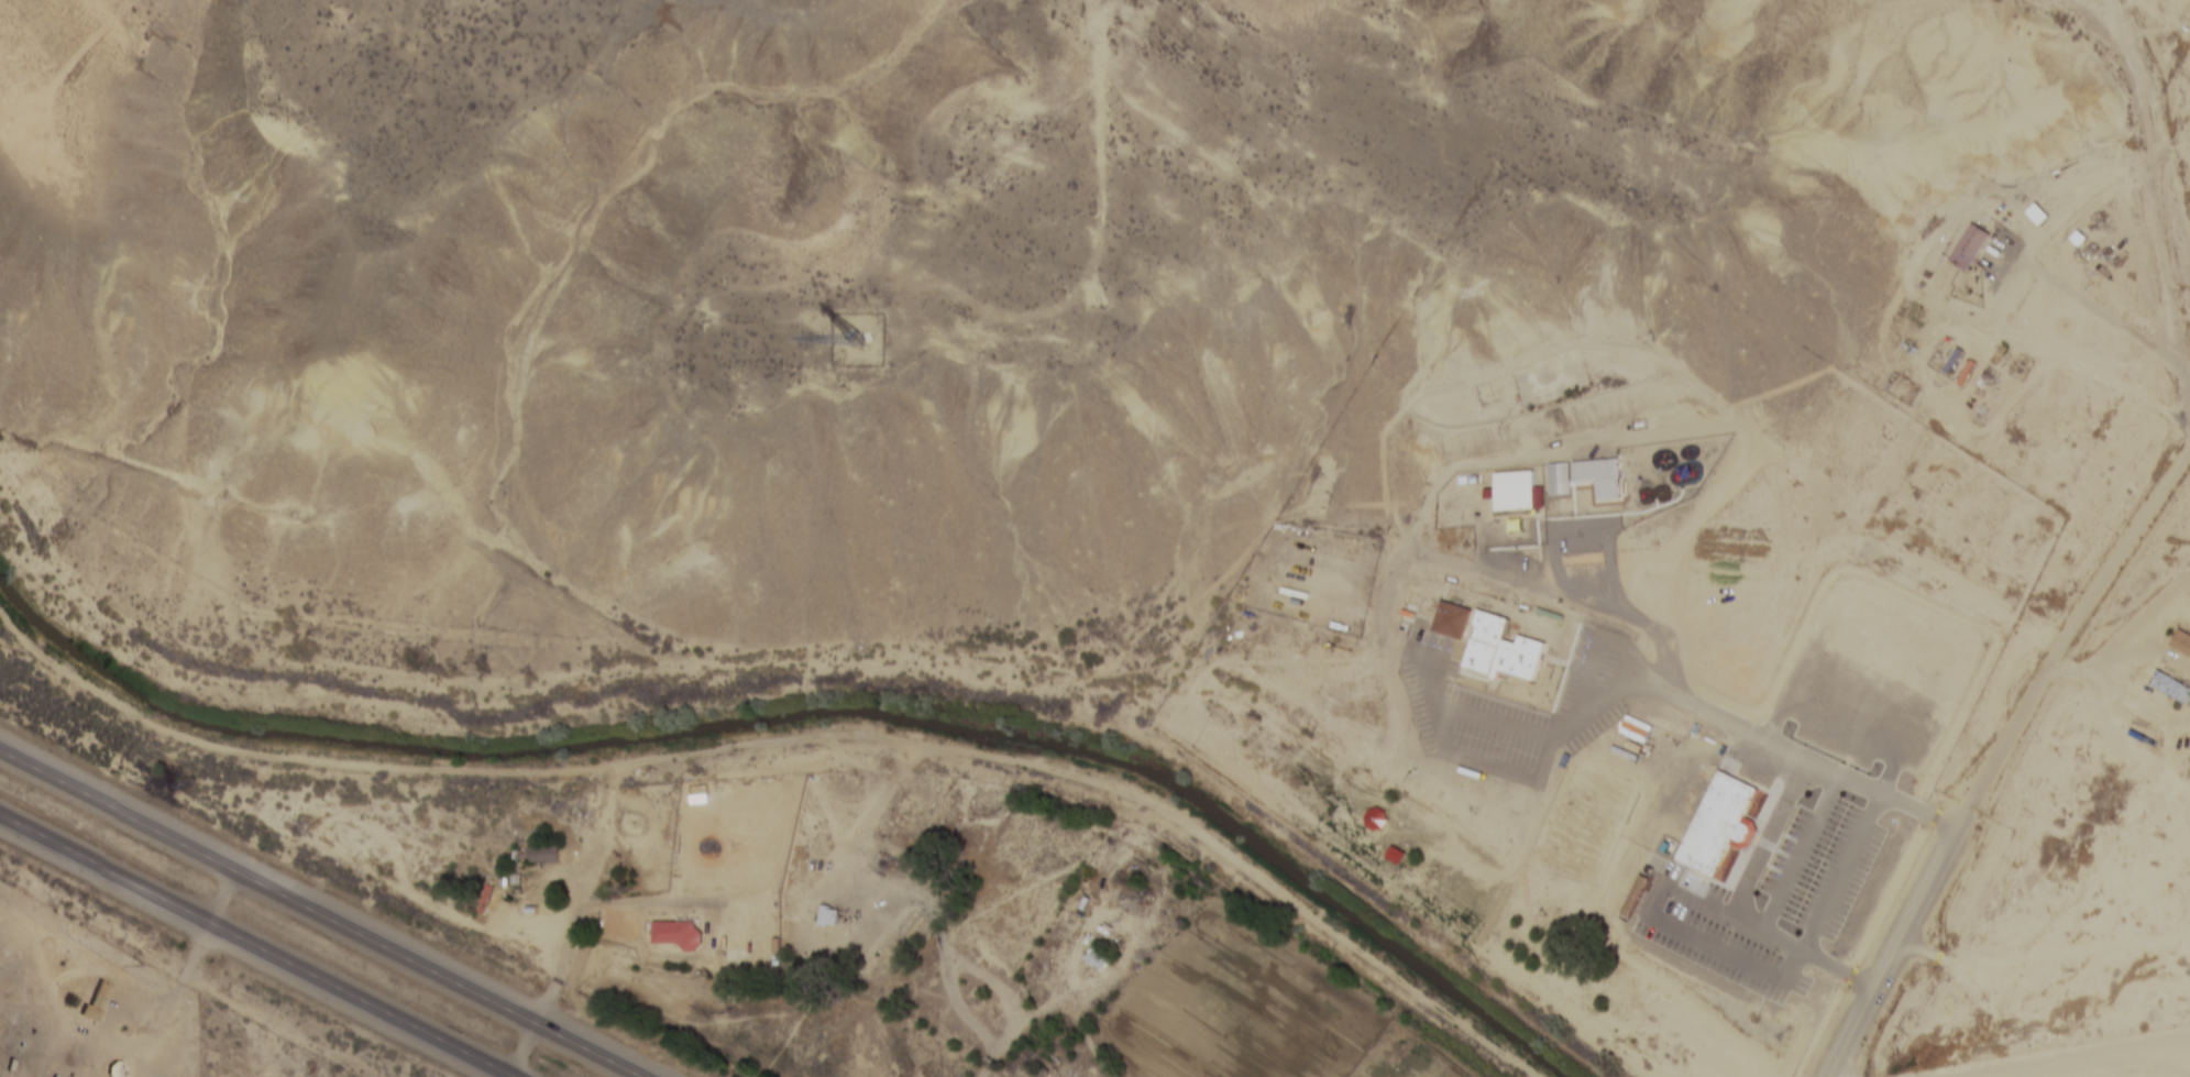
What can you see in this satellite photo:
building: (2037, 215)
building: (1969, 248)
building: (1583, 476)
building: (1512, 490)
building: (1341, 548)
building: (1314, 591)
building: (1489, 642)
building: (2181, 642)
building: (1277, 660)
building: (2171, 688)
road: (1999, 760)
building: (1719, 824)
building: (548, 853)
road: (320, 913)
building: (682, 934)
road: (254, 946)
building: (1096, 958)
road: (2011, 1056)
road: (1831, 1075)

